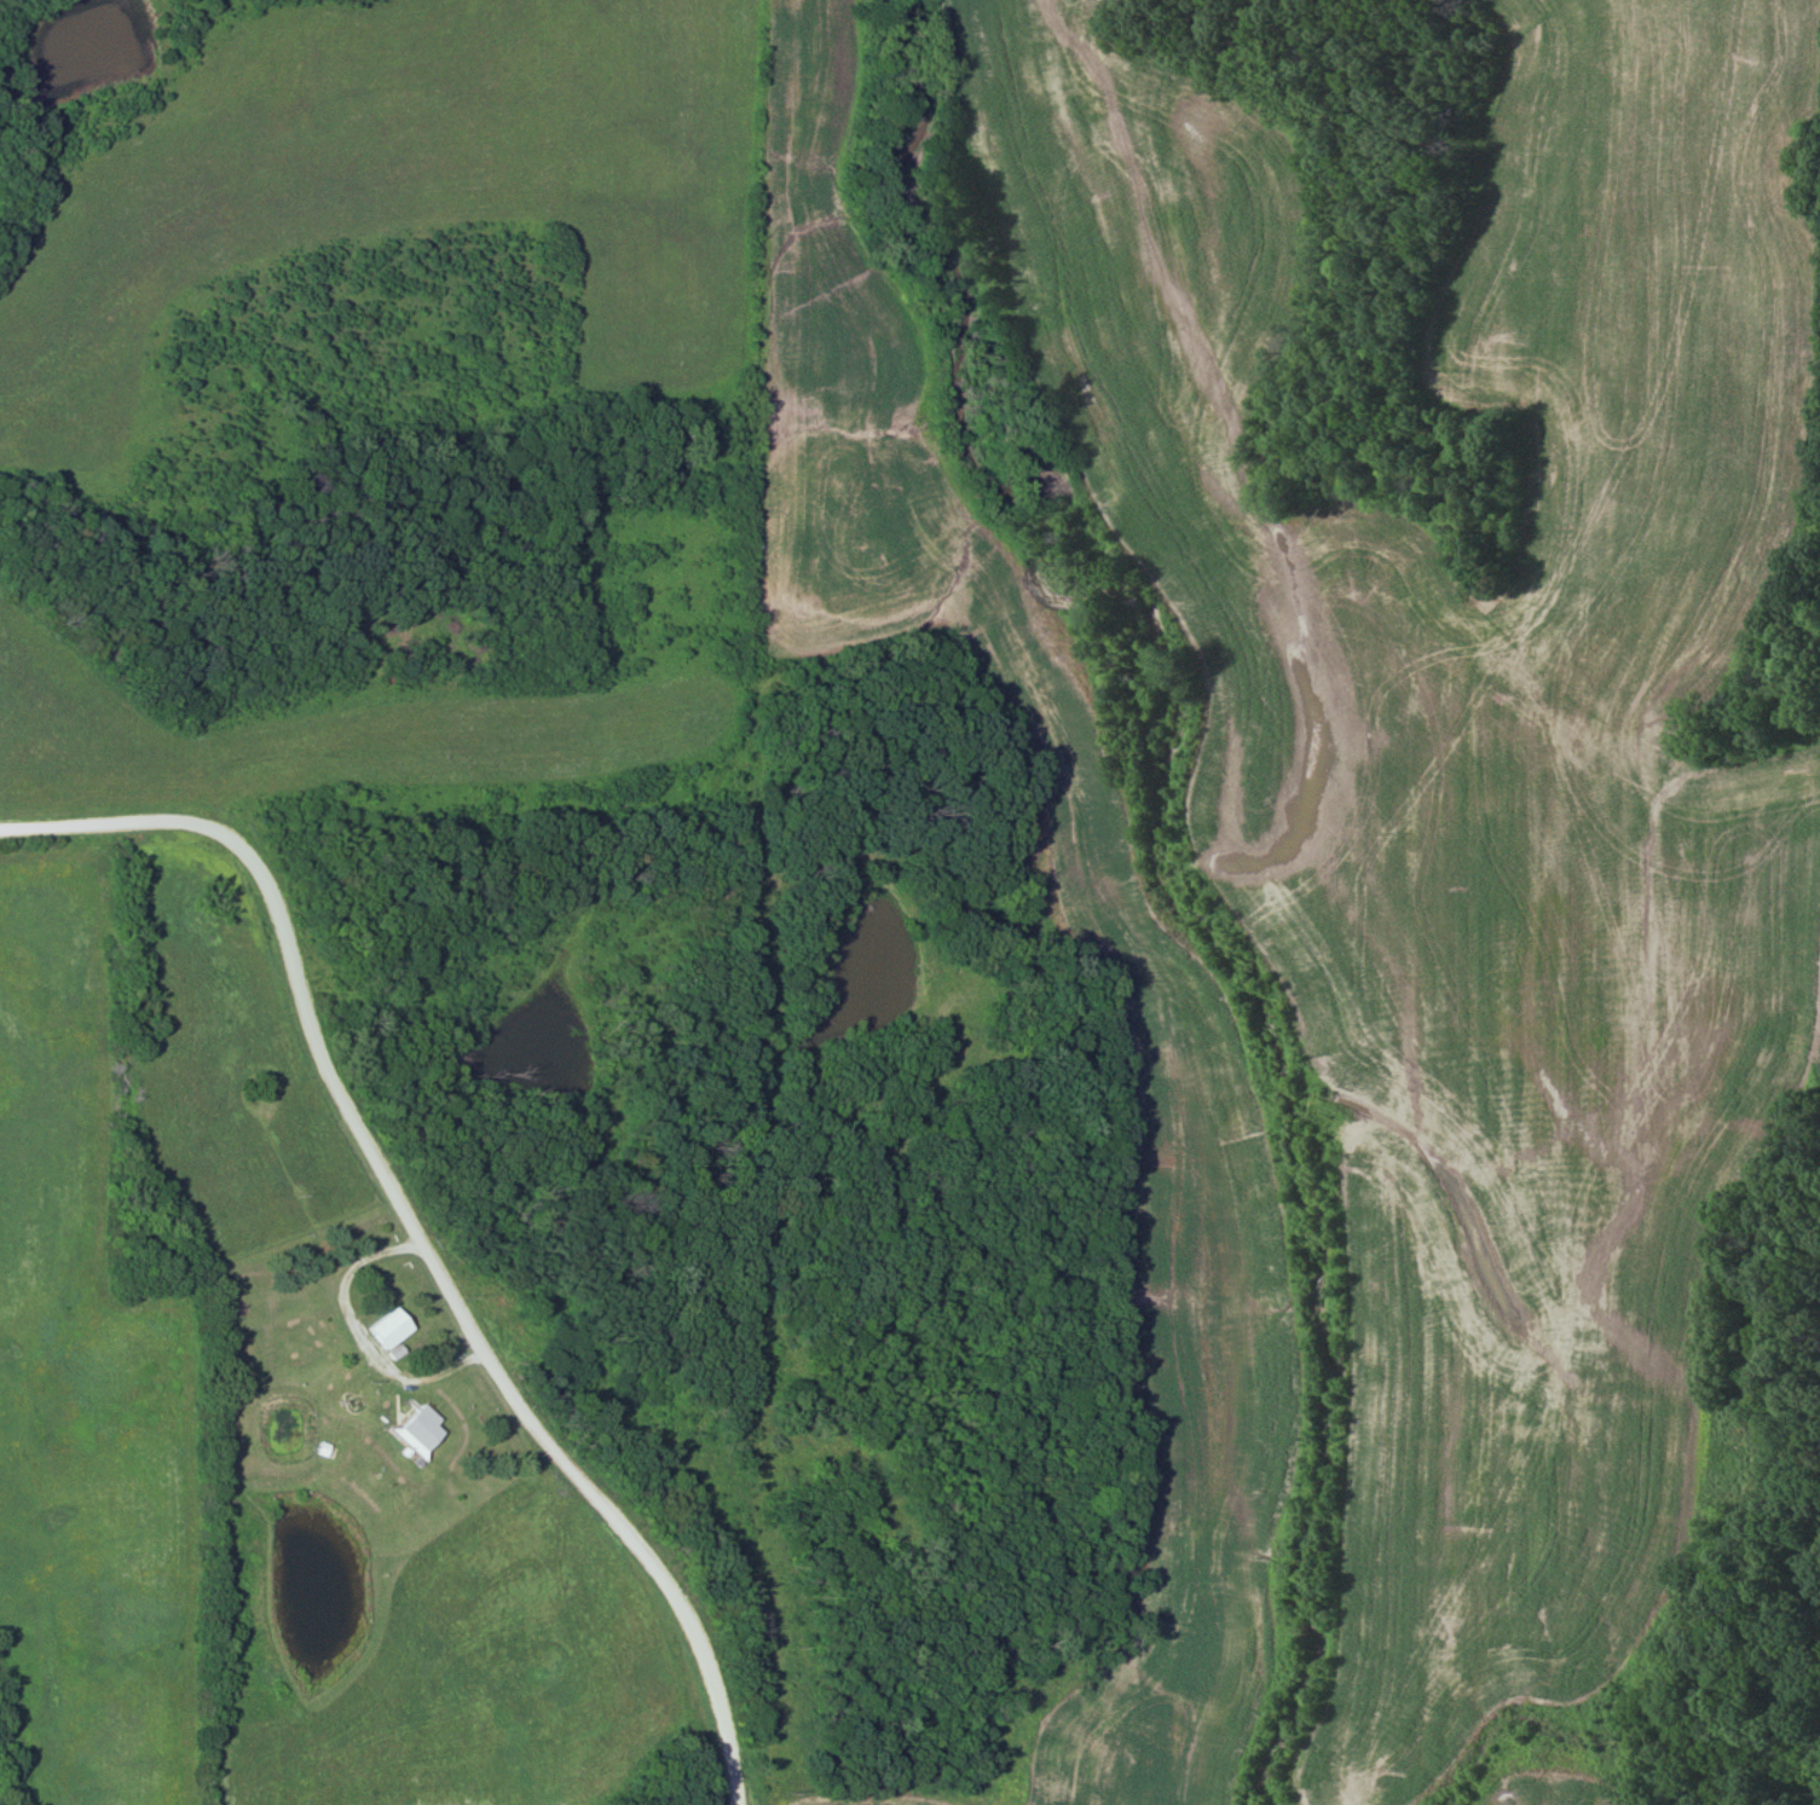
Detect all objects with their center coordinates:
road: (416, 1225)
building: (386, 1330)
building: (417, 1433)
building: (1086, 1745)

